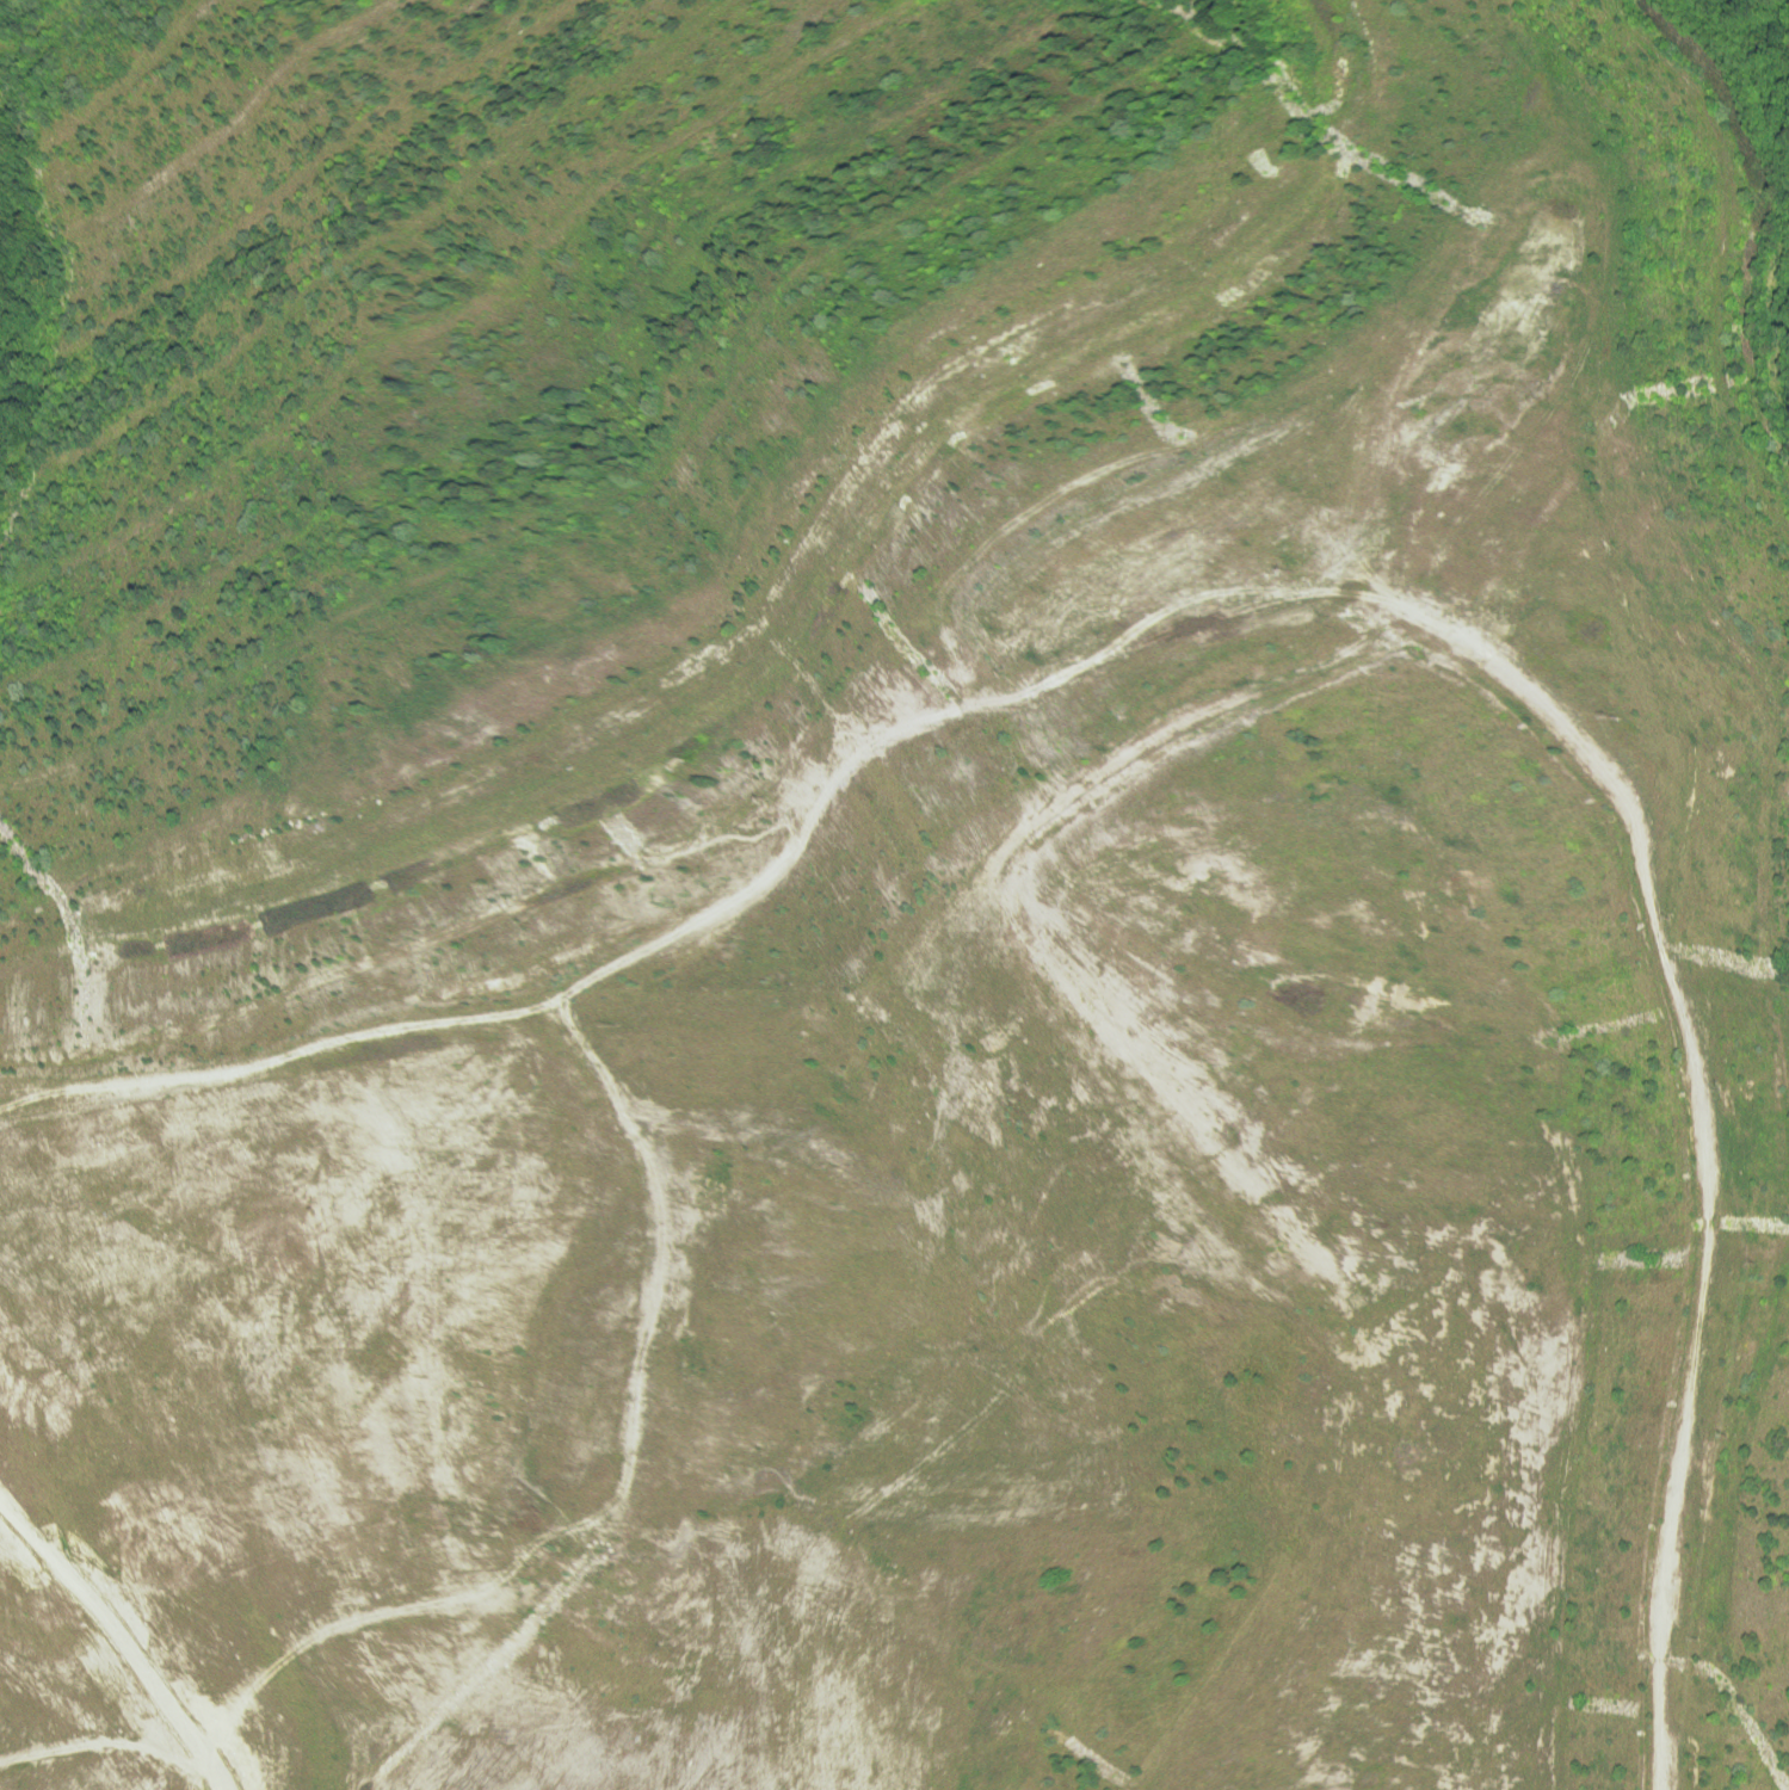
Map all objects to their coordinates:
quarry: (890, 899)

